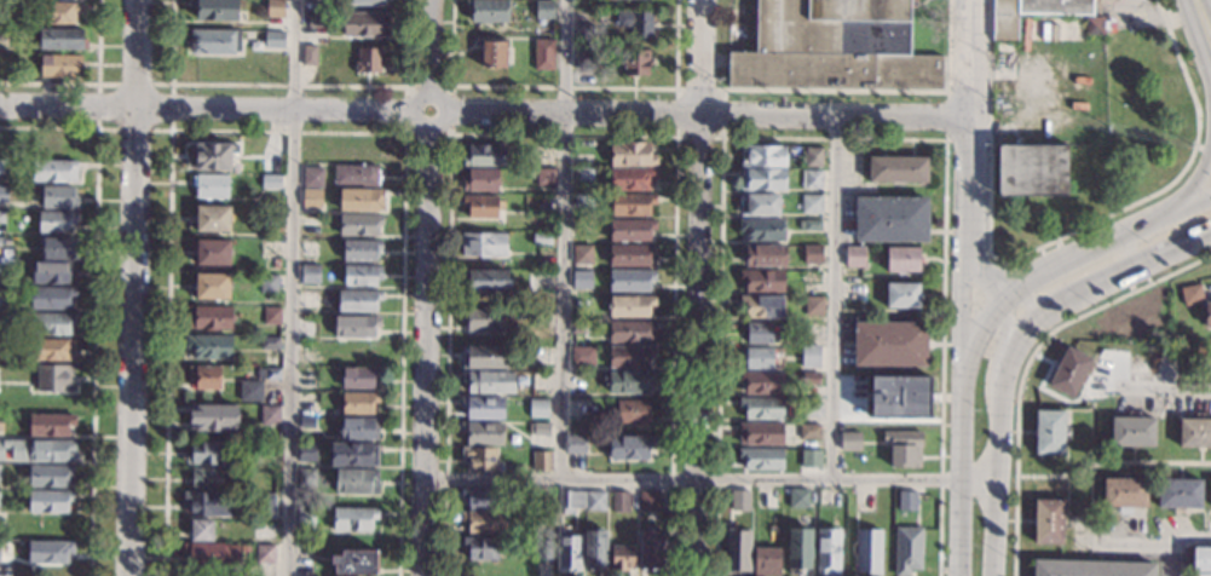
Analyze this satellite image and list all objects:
building: (363, 0)
building: (214, 8)
building: (273, 8)
building: (544, 8)
building: (488, 10)
building: (54, 11)
building: (1030, 12)
road: (1205, 12)
building: (316, 19)
building: (636, 23)
building: (363, 24)
building: (1095, 25)
building: (583, 29)
building: (59, 38)
building: (272, 38)
building: (213, 41)
building: (834, 47)
building: (494, 53)
building: (542, 53)
building: (307, 54)
building: (583, 58)
building: (367, 59)
road: (970, 59)
building: (635, 61)
building: (58, 65)
road: (91, 83)
road: (289, 83)
road: (564, 86)
road: (881, 91)
road: (485, 109)
road: (99, 128)
road: (287, 131)
road: (450, 133)
road: (561, 134)
road: (675, 136)
road: (831, 137)
road: (945, 138)
road: (1203, 146)
building: (381, 149)
building: (259, 150)
building: (632, 154)
building: (484, 155)
building: (762, 155)
building: (209, 156)
building: (812, 157)
building: (582, 160)
building: (0, 166)
building: (899, 169)
building: (1031, 169)
building: (53, 171)
building: (583, 174)
building: (354, 175)
building: (312, 177)
building: (544, 177)
building: (630, 178)
building: (480, 179)
building: (763, 179)
building: (812, 179)
road: (1203, 179)
building: (270, 182)
building: (211, 185)
building: (2, 194)
building: (58, 197)
building: (310, 197)
road: (1204, 198)
building: (359, 200)
building: (582, 200)
building: (632, 203)
building: (757, 205)
building: (811, 205)
building: (481, 206)
road: (1118, 209)
building: (1, 217)
building: (212, 217)
building: (310, 219)
building: (892, 219)
building: (56, 220)
building: (270, 223)
building: (358, 224)
building: (809, 225)
building: (579, 226)
building: (630, 229)
building: (763, 230)
road: (971, 230)
building: (541, 238)
road: (563, 240)
building: (1, 241)
building: (483, 244)
building: (58, 248)
building: (359, 249)
road: (1098, 249)
building: (212, 252)
building: (811, 254)
building: (582, 255)
building: (630, 255)
building: (763, 255)
building: (854, 255)
building: (903, 259)
road: (1115, 269)
building: (52, 272)
building: (308, 273)
building: (362, 275)
building: (809, 276)
building: (630, 280)
building: (761, 280)
building: (484, 281)
building: (538, 281)
road: (973, 282)
building: (267, 283)
building: (581, 284)
building: (212, 286)
road: (133, 287)
road: (697, 287)
road: (293, 288)
road: (428, 288)
building: (854, 292)
building: (0, 293)
building: (901, 294)
building: (1190, 295)
building: (51, 298)
building: (272, 298)
road: (835, 299)
building: (357, 300)
road: (94, 303)
road: (967, 304)
building: (630, 305)
building: (762, 305)
building: (813, 305)
building: (1206, 313)
building: (270, 316)
building: (209, 317)
building: (481, 318)
building: (0, 319)
building: (48, 324)
building: (354, 326)
building: (578, 328)
building: (630, 332)
building: (757, 333)
building: (786, 333)
building: (267, 344)
building: (888, 344)
building: (0, 345)
building: (207, 347)
building: (50, 350)
building: (353, 351)
building: (581, 356)
building: (809, 356)
building: (628, 358)
building: (756, 358)
building: (481, 359)
building: (1069, 371)
building: (269, 375)
building: (202, 378)
building: (356, 378)
building: (51, 379)
building: (808, 379)
building: (486, 382)
building: (538, 382)
building: (628, 382)
building: (759, 382)
road: (1164, 387)
building: (248, 392)
building: (1, 394)
building: (898, 397)
building: (356, 403)
building: (480, 408)
building: (760, 408)
building: (808, 408)
building: (536, 410)
building: (630, 413)
building: (267, 415)
building: (212, 417)
building: (1, 424)
building: (304, 424)
building: (47, 425)
building: (354, 428)
building: (536, 430)
road: (961, 431)
building: (1132, 431)
building: (1194, 431)
building: (807, 432)
building: (1050, 432)
building: (480, 433)
building: (759, 433)
building: (850, 440)
building: (573, 444)
road: (998, 447)
building: (628, 448)
building: (904, 448)
building: (40, 450)
building: (306, 453)
building: (351, 454)
building: (202, 455)
building: (759, 457)
building: (812, 457)
building: (479, 459)
building: (540, 462)
building: (0, 466)
building: (47, 476)
building: (305, 478)
building: (202, 479)
road: (710, 480)
building: (352, 483)
building: (1124, 494)
building: (1178, 494)
building: (478, 497)
building: (763, 499)
building: (795, 499)
building: (569, 500)
building: (46, 501)
building: (536, 501)
building: (593, 501)
building: (646, 501)
building: (739, 501)
building: (907, 501)
building: (618, 502)
building: (204, 503)
building: (263, 507)
building: (302, 518)
building: (351, 519)
building: (549, 520)
building: (481, 522)
building: (1048, 522)
building: (200, 530)
road: (1144, 540)
building: (694, 546)
building: (479, 548)
building: (592, 549)
building: (541, 551)
building: (648, 551)
building: (796, 551)
building: (867, 551)
building: (907, 551)
building: (47, 552)
building: (826, 552)
building: (202, 553)
building: (566, 553)
building: (737, 553)
building: (263, 554)
building: (619, 558)
building: (1201, 559)
building: (765, 561)
building: (353, 563)
building: (1090, 568)

